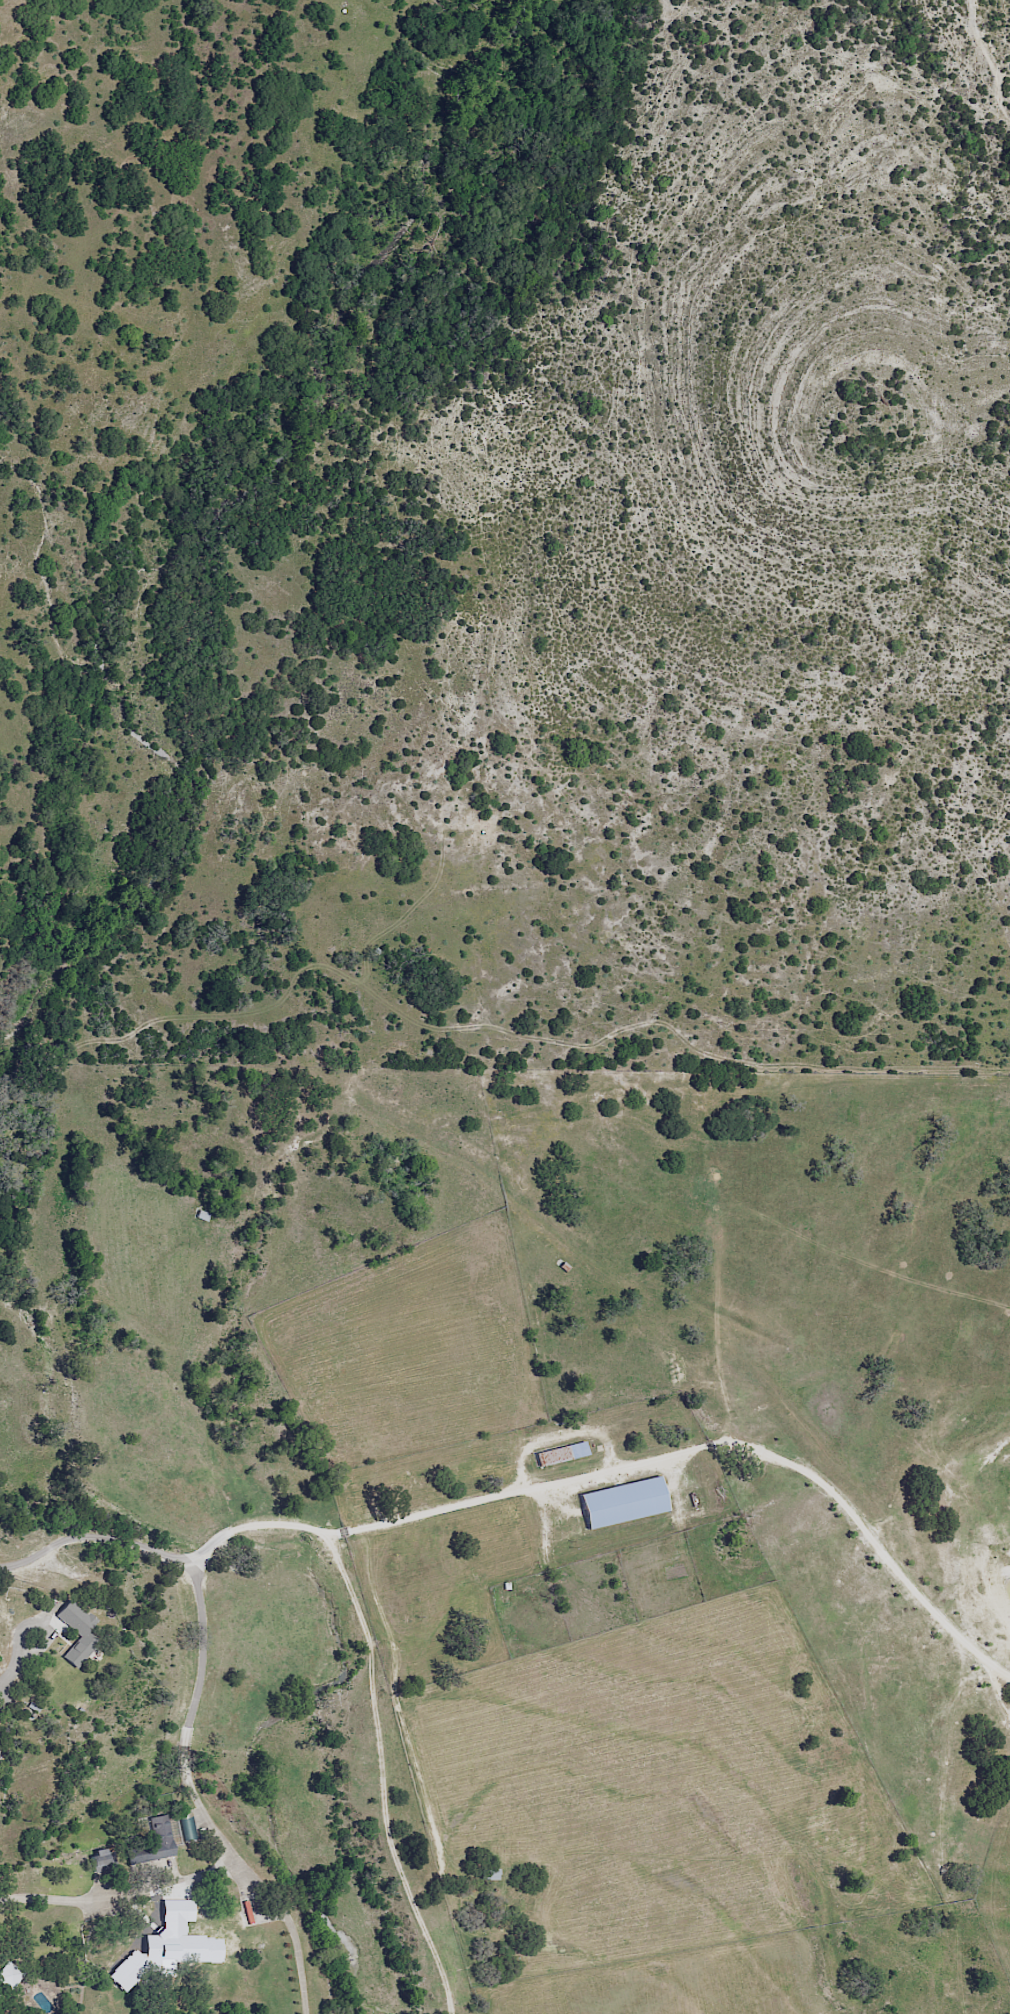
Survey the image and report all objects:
building: (201, 1216)
building: (560, 1455)
road: (553, 1484)
building: (618, 1504)
building: (70, 1640)
road: (203, 1710)
building: (29, 1788)
building: (187, 1827)
building: (152, 1842)
building: (100, 1860)
road: (206, 1869)
building: (486, 1874)
building: (183, 1931)
building: (3, 1971)

